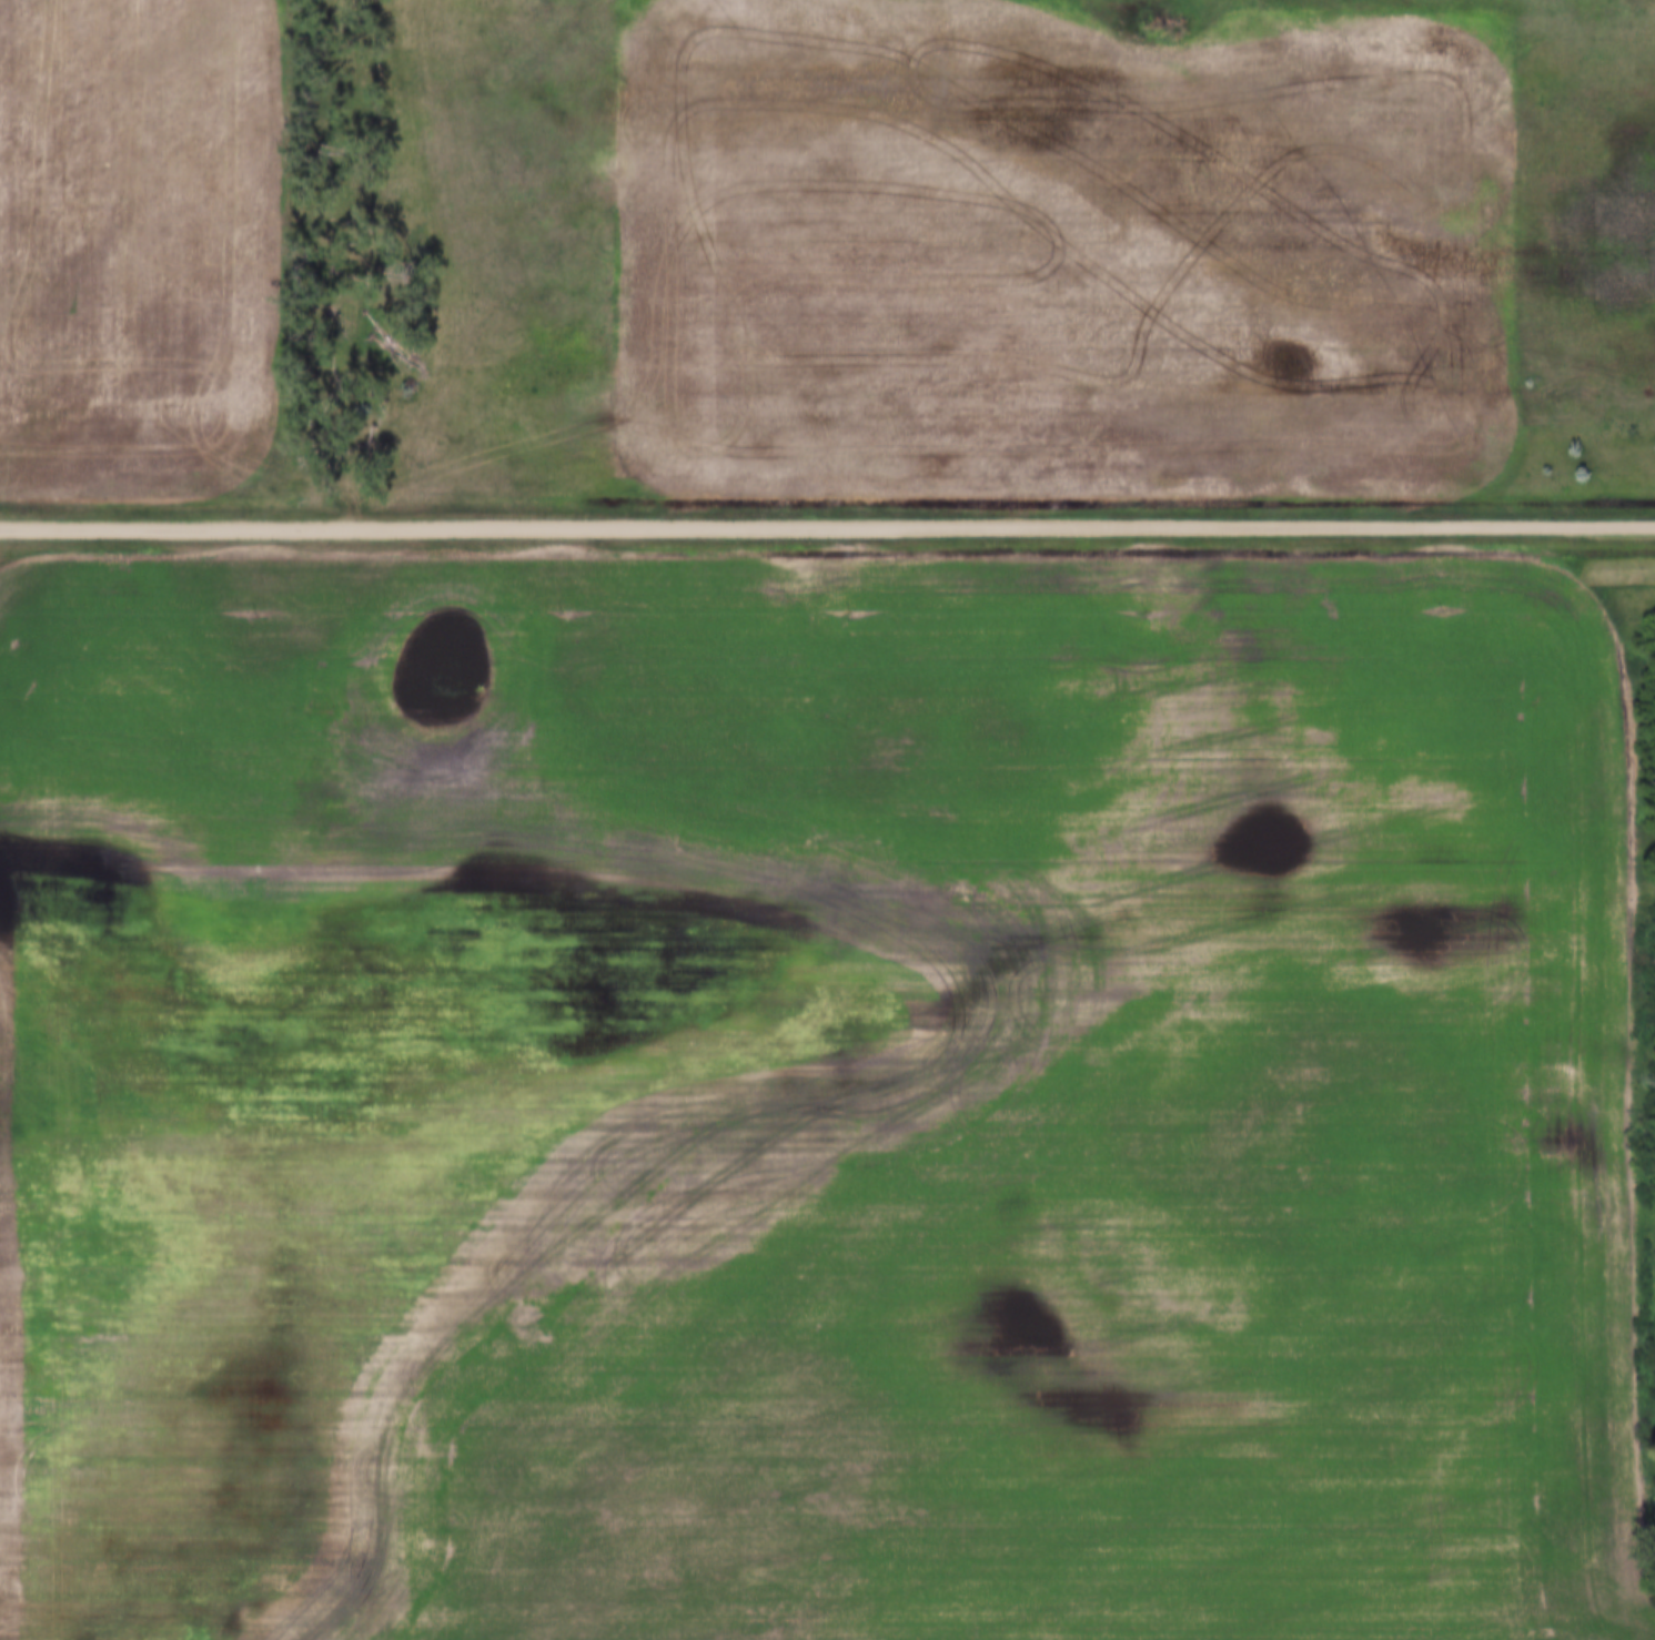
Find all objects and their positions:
road: (330, 263)
road: (827, 525)

